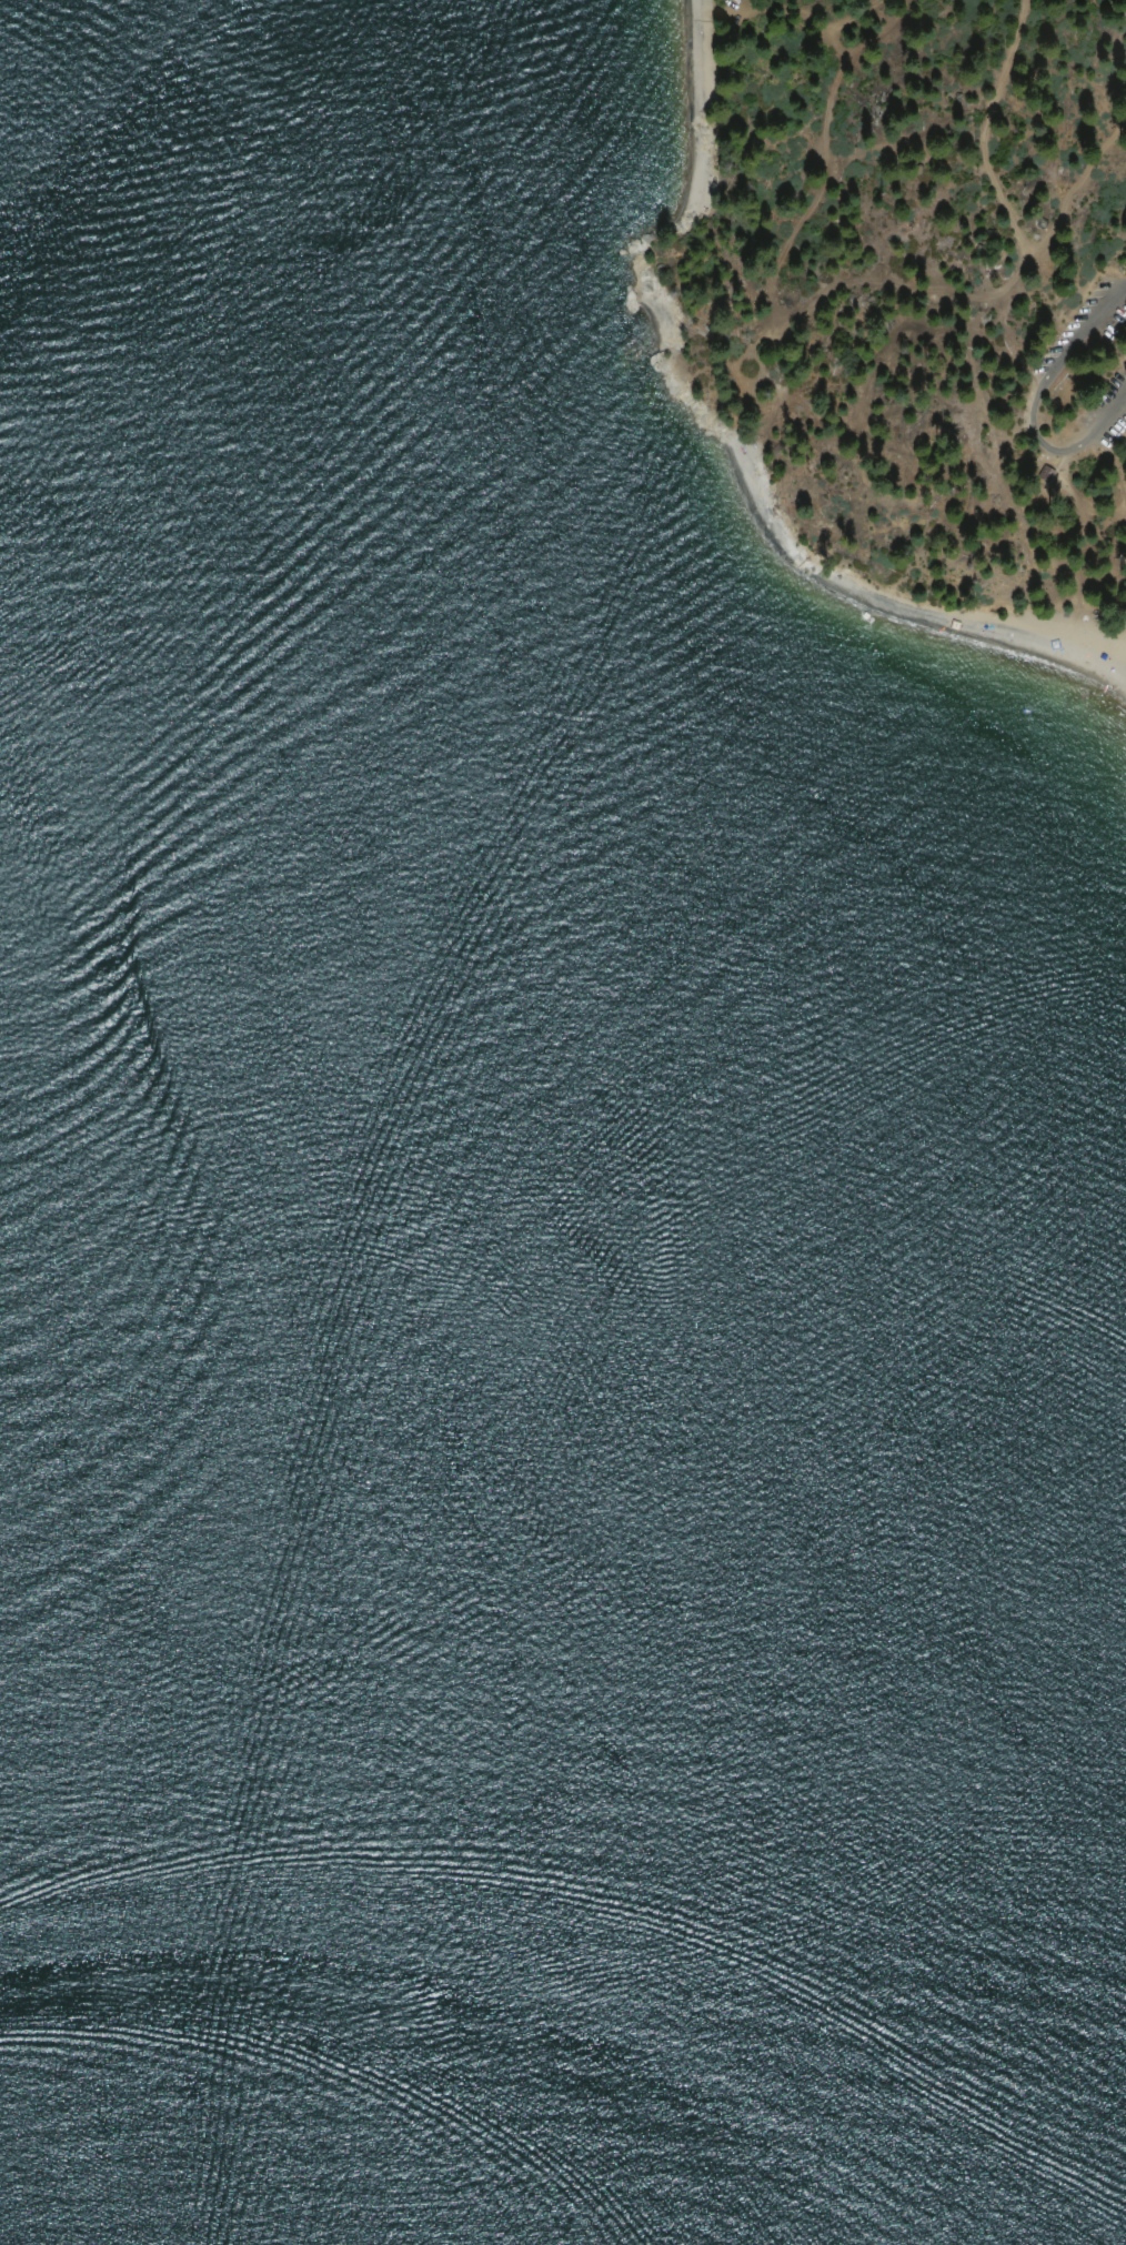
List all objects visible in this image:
parking lot: (1079, 383)
road: (1040, 411)
building: (1049, 475)

